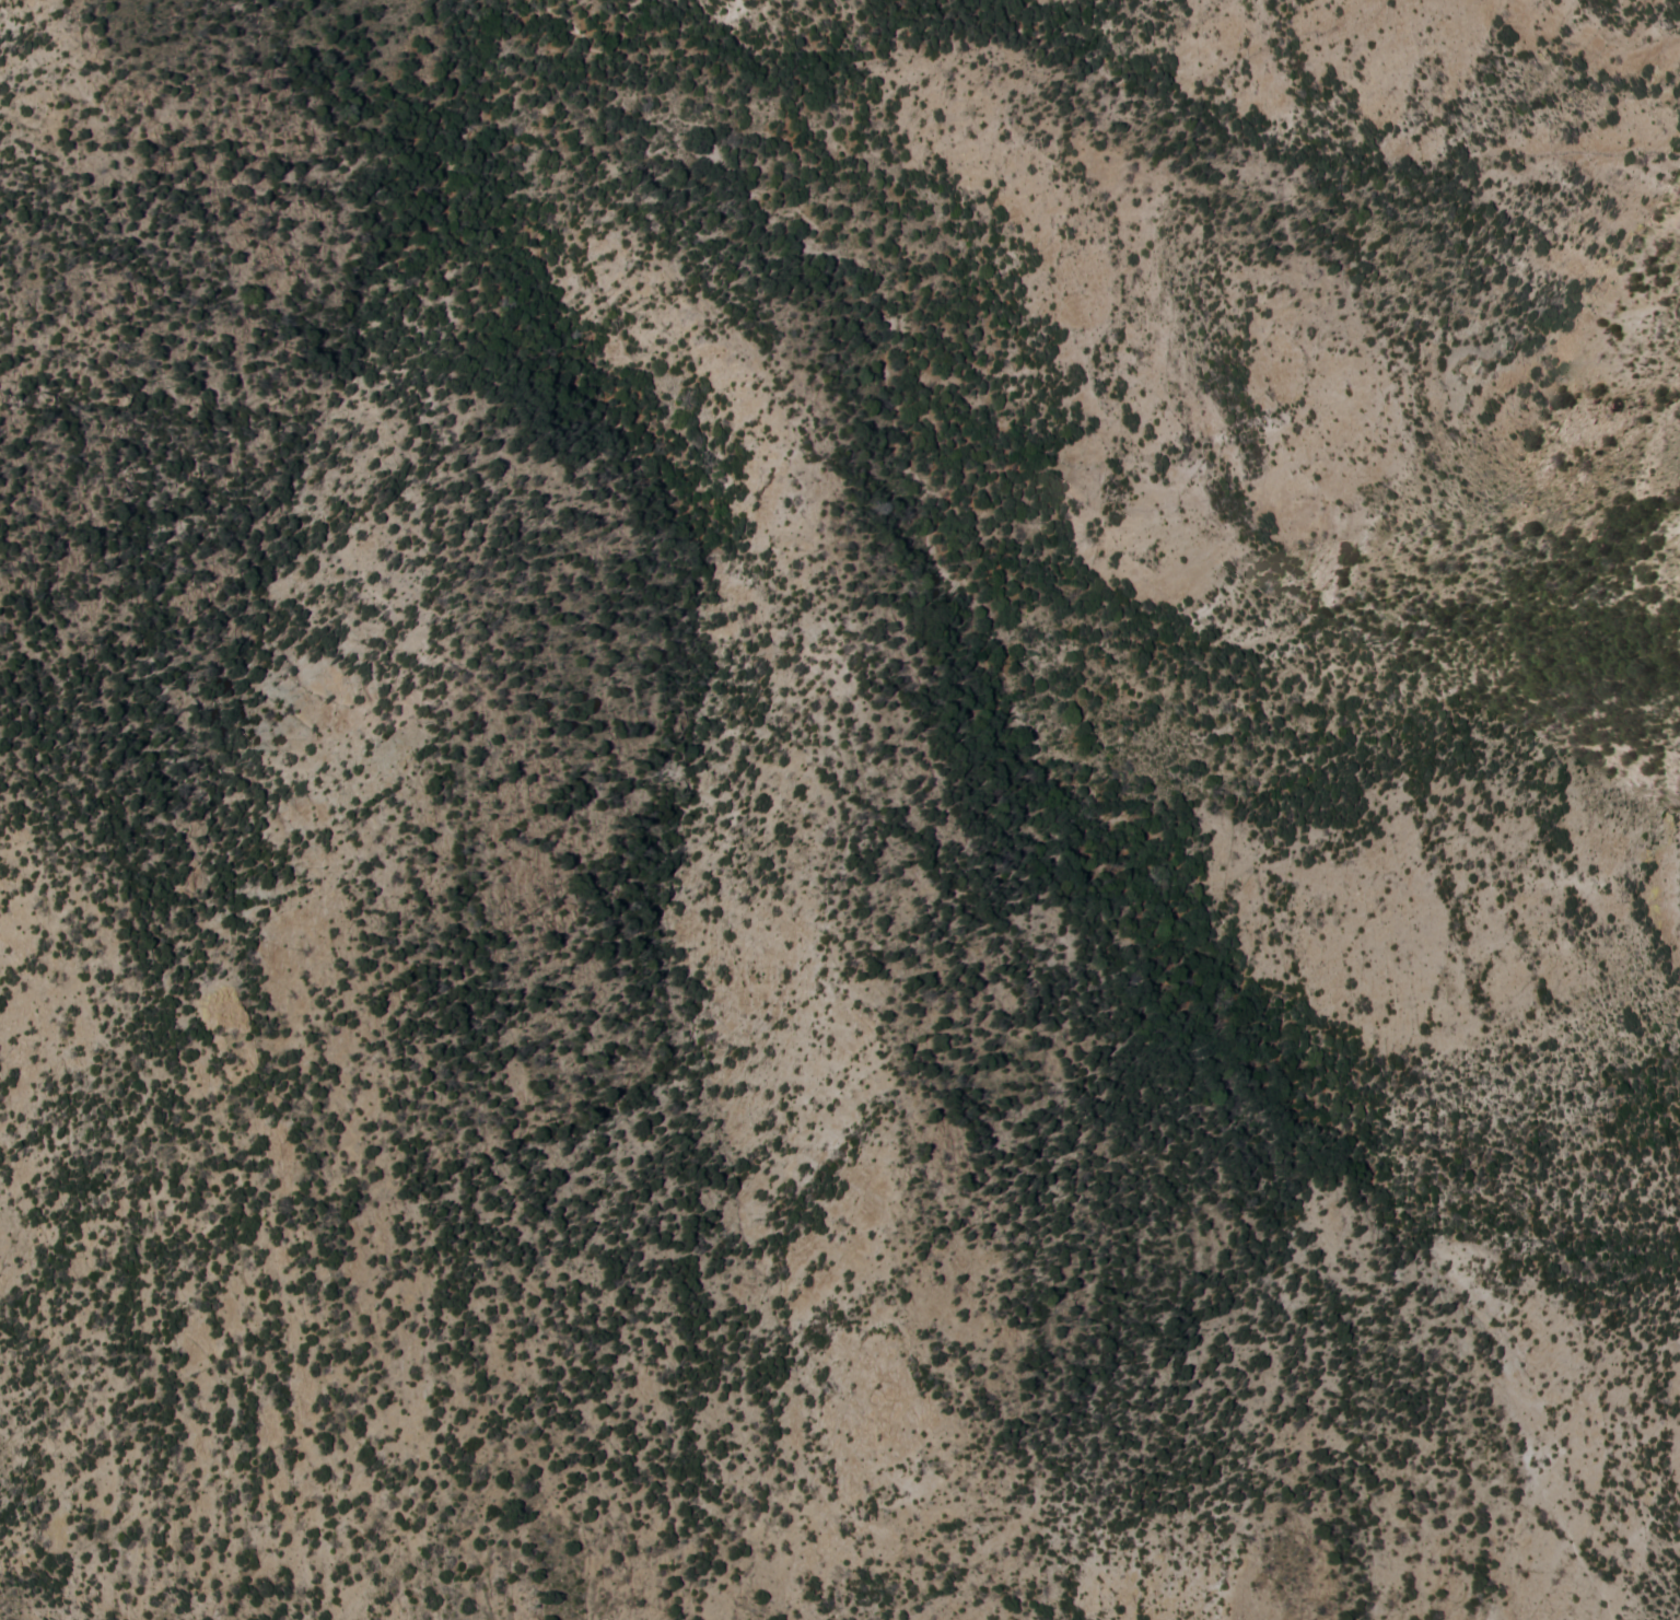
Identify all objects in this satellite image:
road: (1559, 1537)

